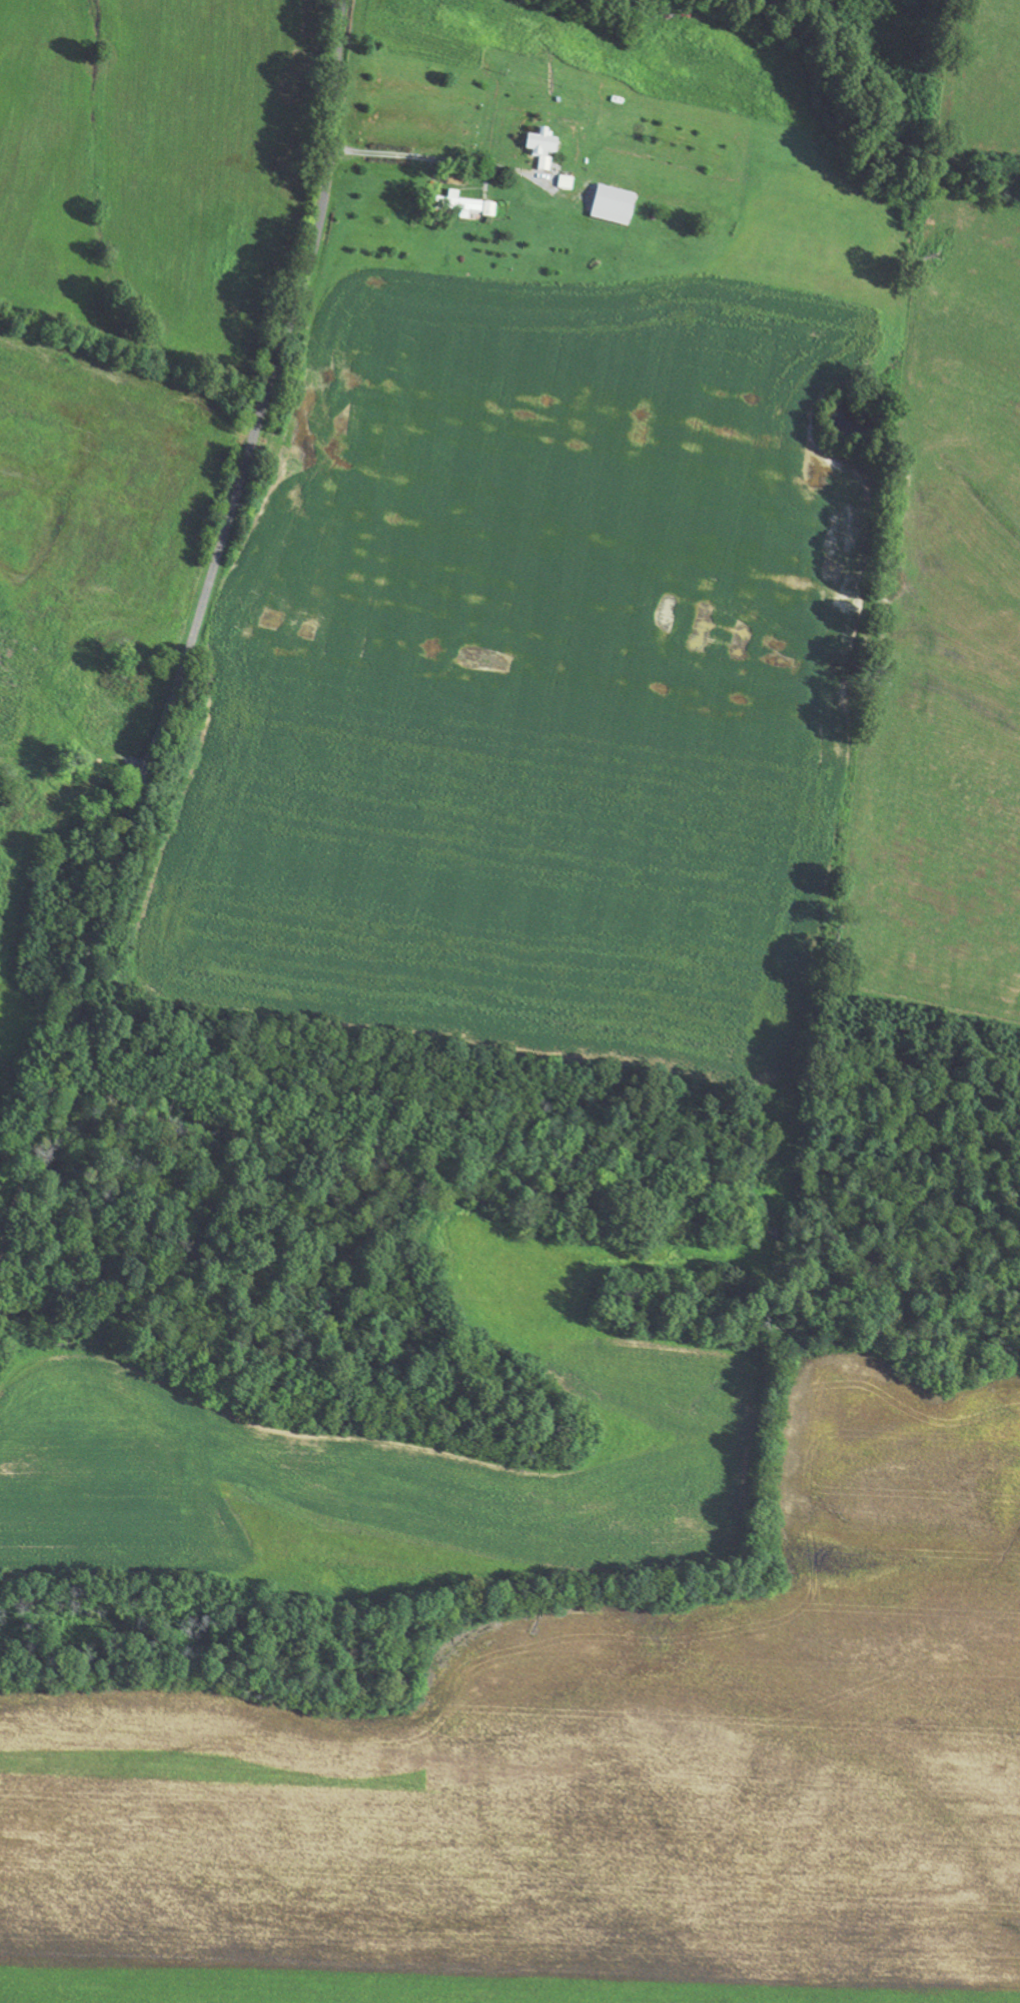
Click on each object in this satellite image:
building: (540, 146)
building: (563, 185)
building: (458, 206)
building: (611, 208)
road: (192, 630)

